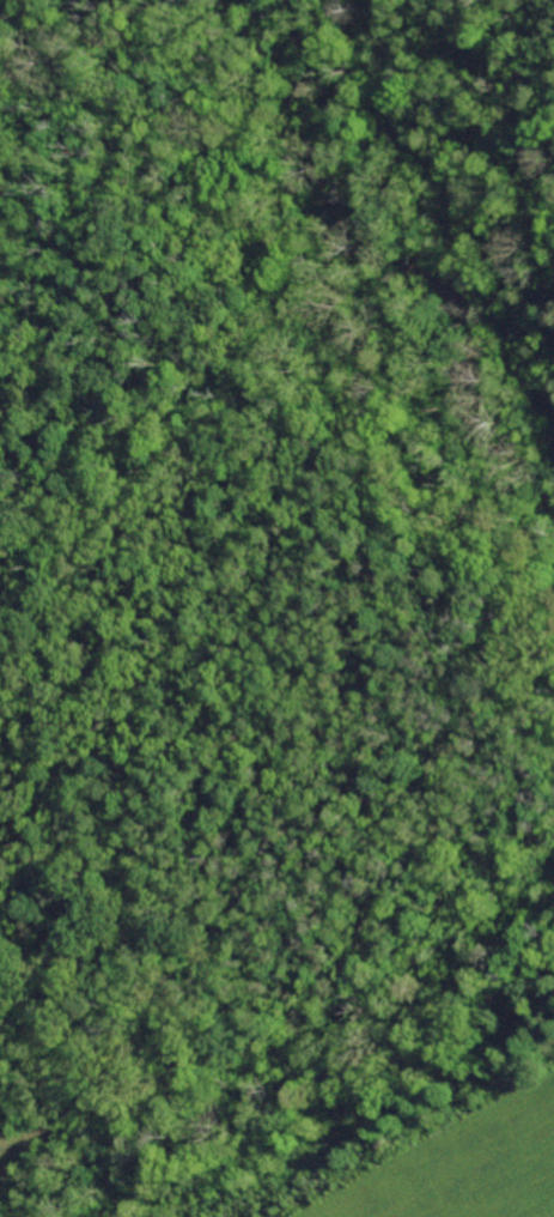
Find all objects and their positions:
crop: (446, 1158)

